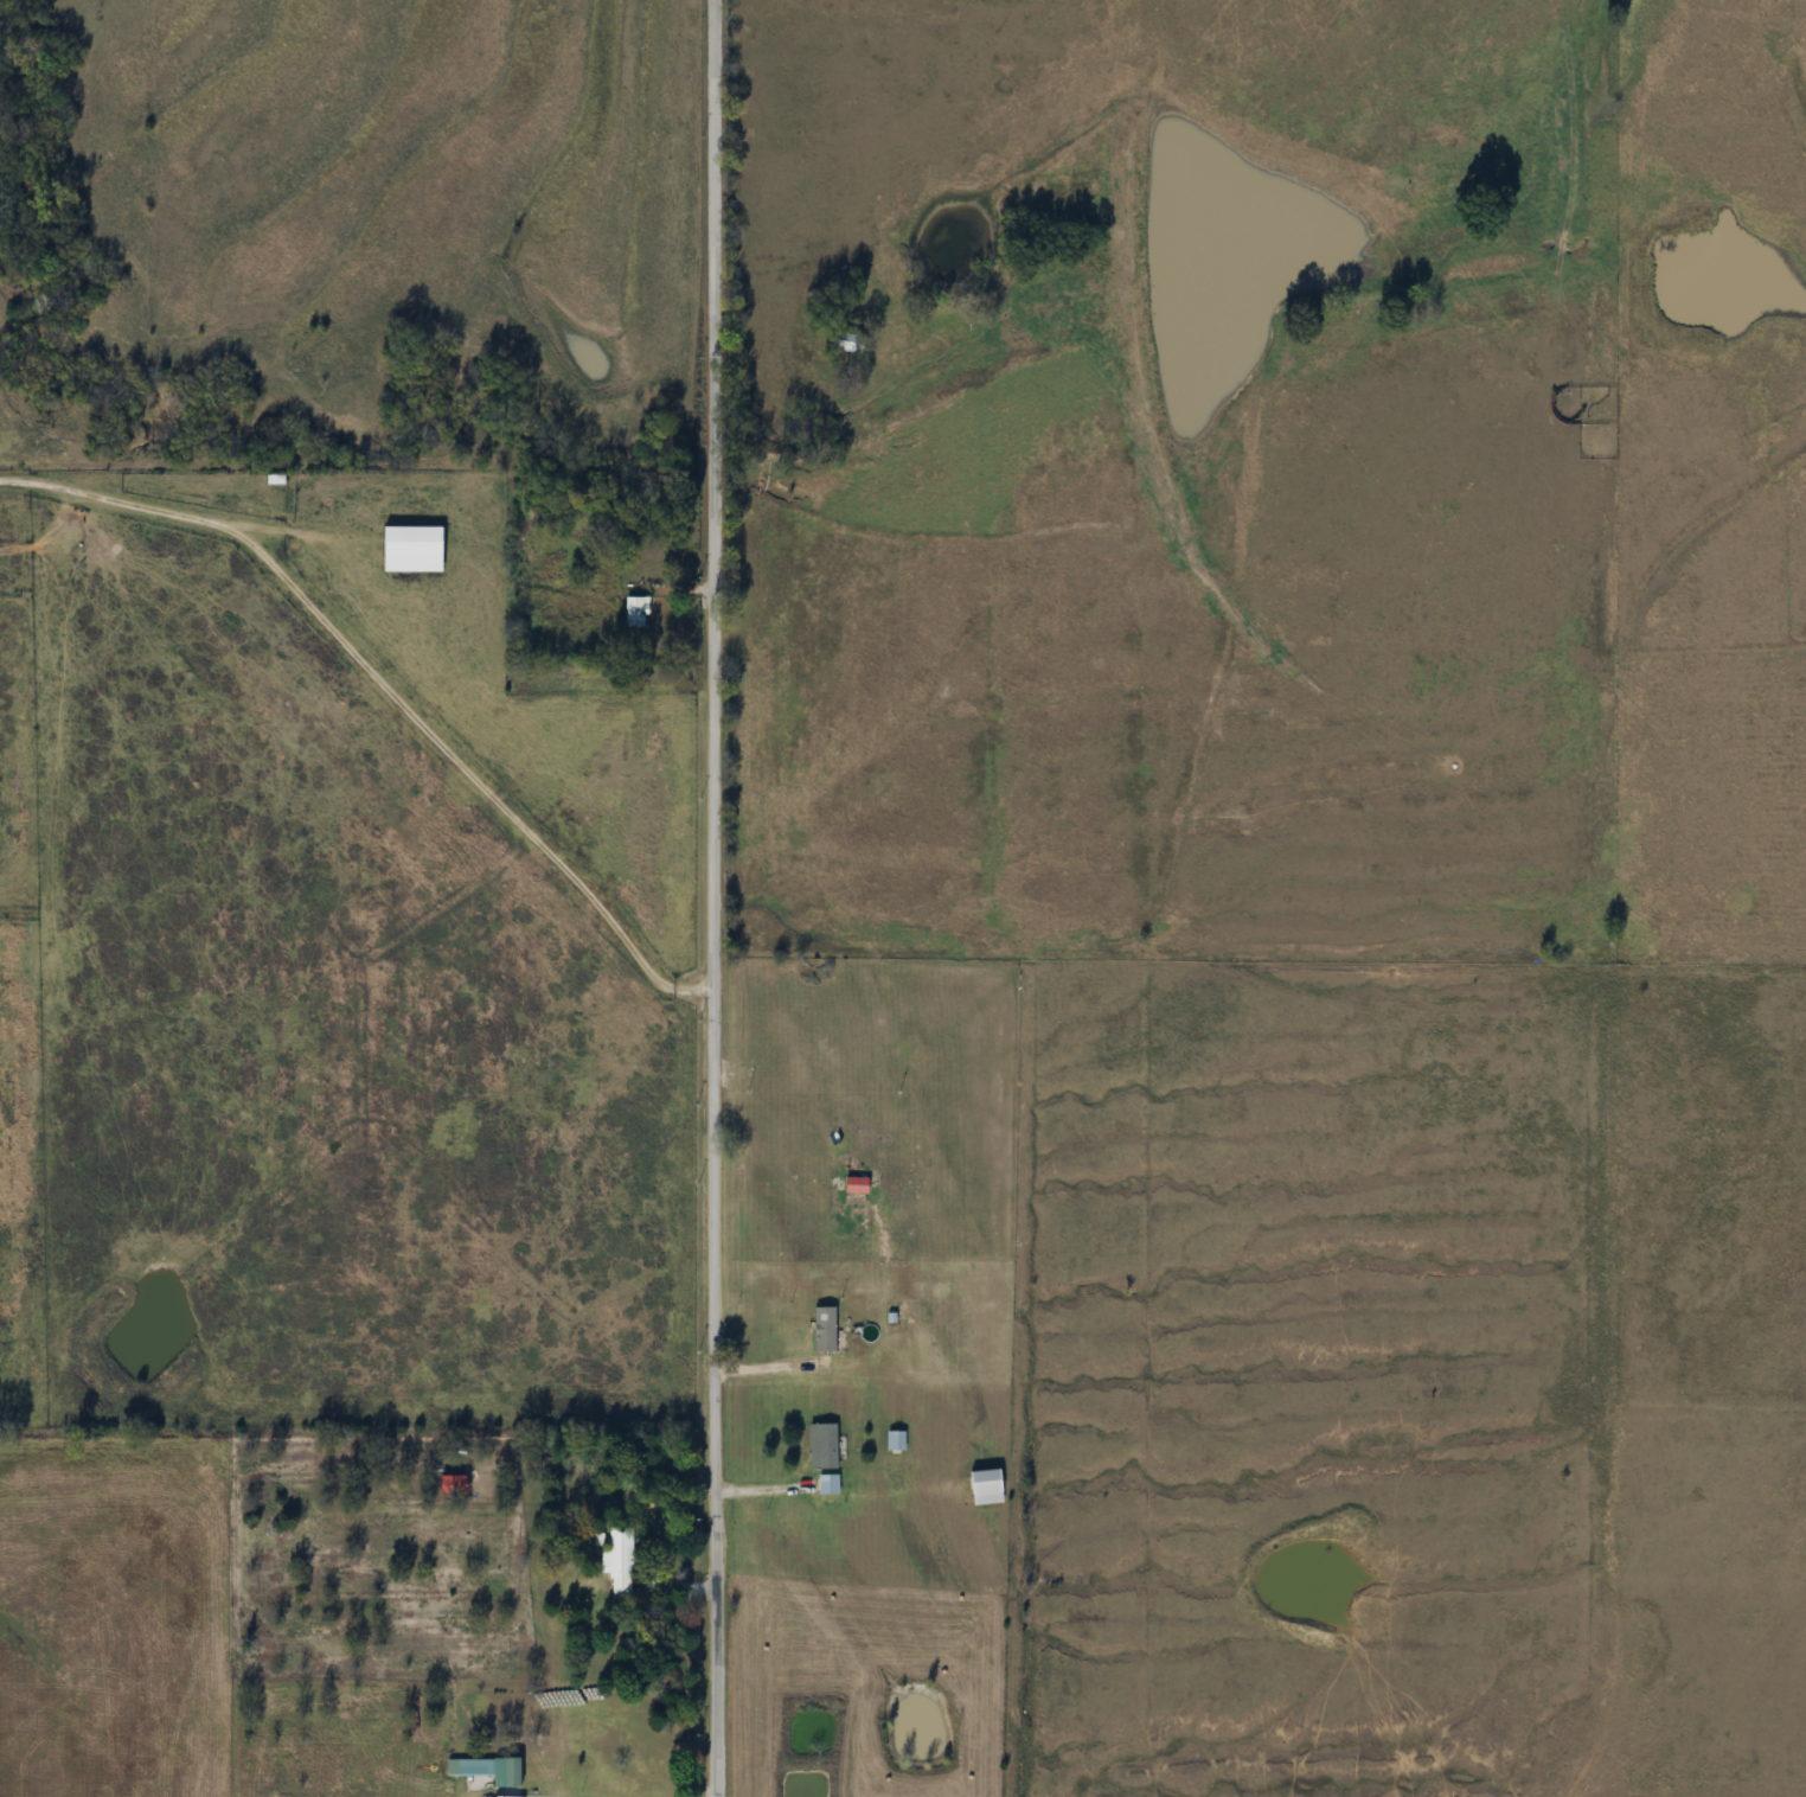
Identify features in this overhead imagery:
building: (846, 341)
building: (414, 549)
building: (636, 612)
road: (388, 685)
road: (713, 898)
building: (825, 1330)
building: (896, 1440)
building: (824, 1446)
building: (987, 1486)
building: (620, 1560)
building: (470, 1767)
building: (513, 1773)

